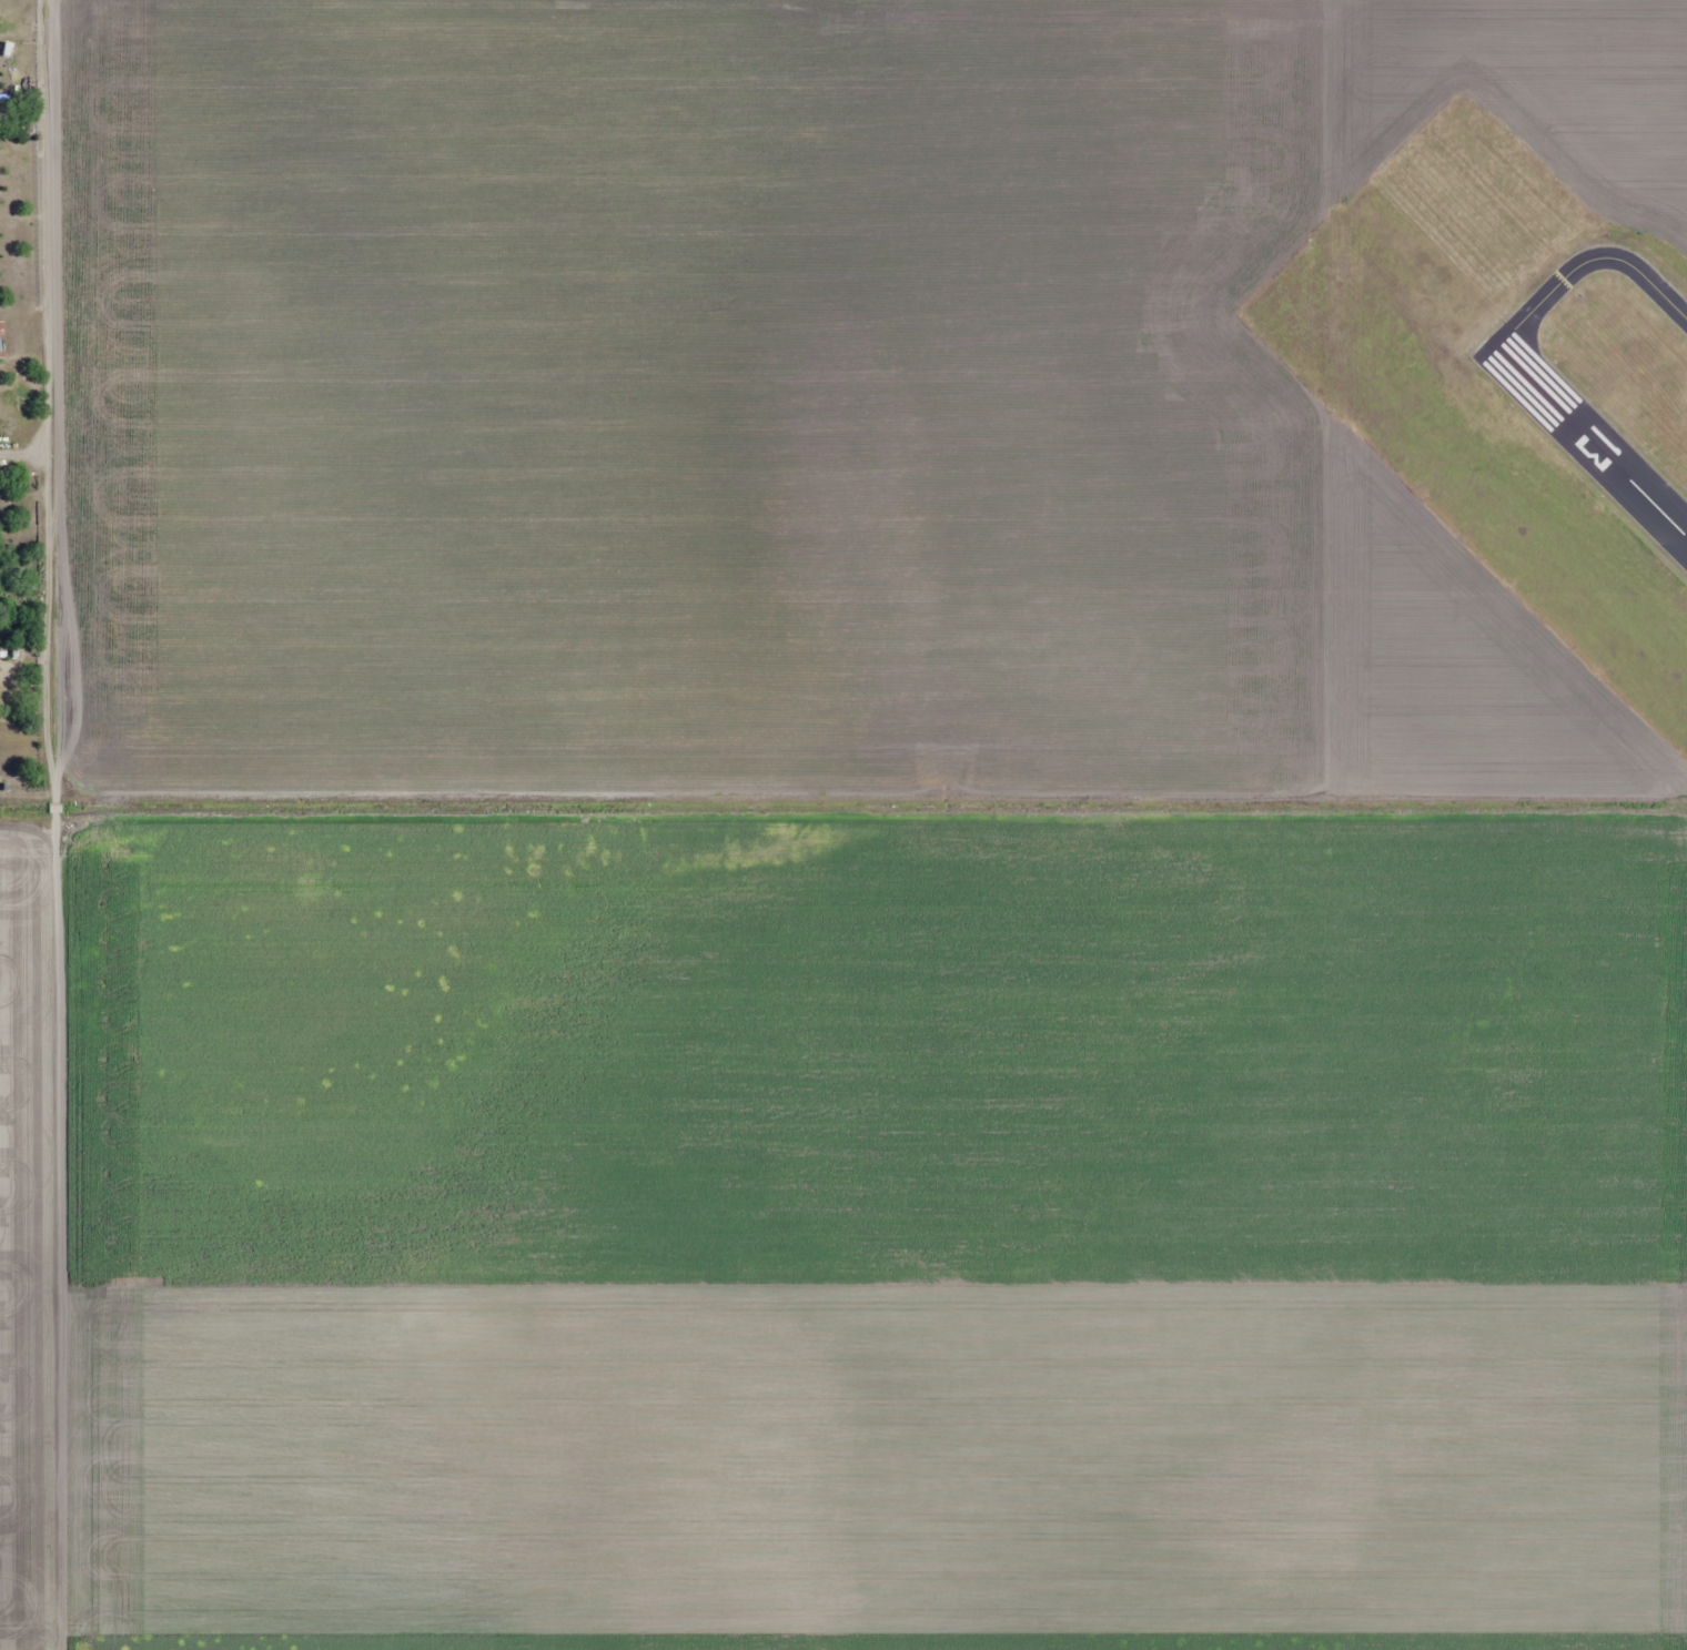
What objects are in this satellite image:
airport taxiway: (1586, 262)
building: (1, 341)
airport: (1499, 396)
airport runway: (1592, 442)
road: (75, 824)

